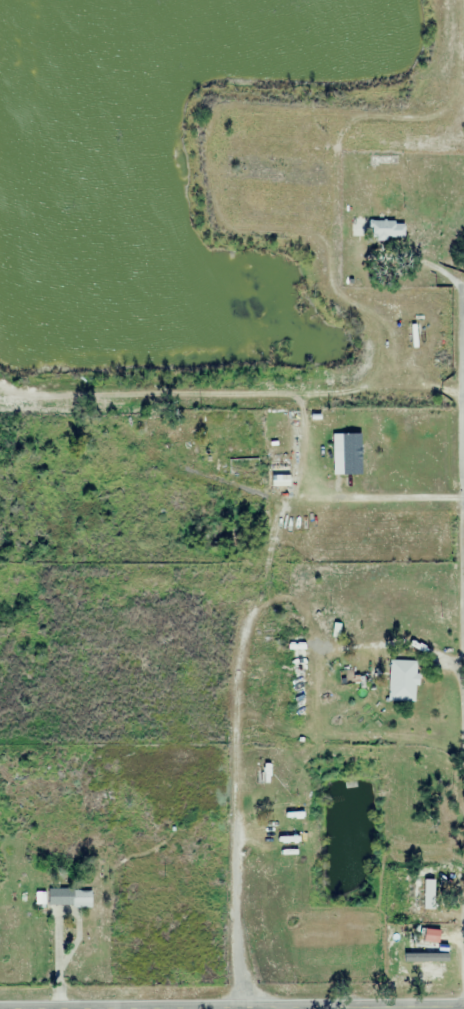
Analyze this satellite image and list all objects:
building: (387, 161)
building: (387, 230)
road: (461, 390)
building: (195, 424)
building: (351, 454)
building: (243, 466)
road: (424, 497)
building: (298, 676)
building: (403, 680)
building: (275, 773)
road: (233, 803)
building: (424, 891)
building: (61, 896)
building: (428, 962)
road: (378, 1007)
road: (350, 1008)

